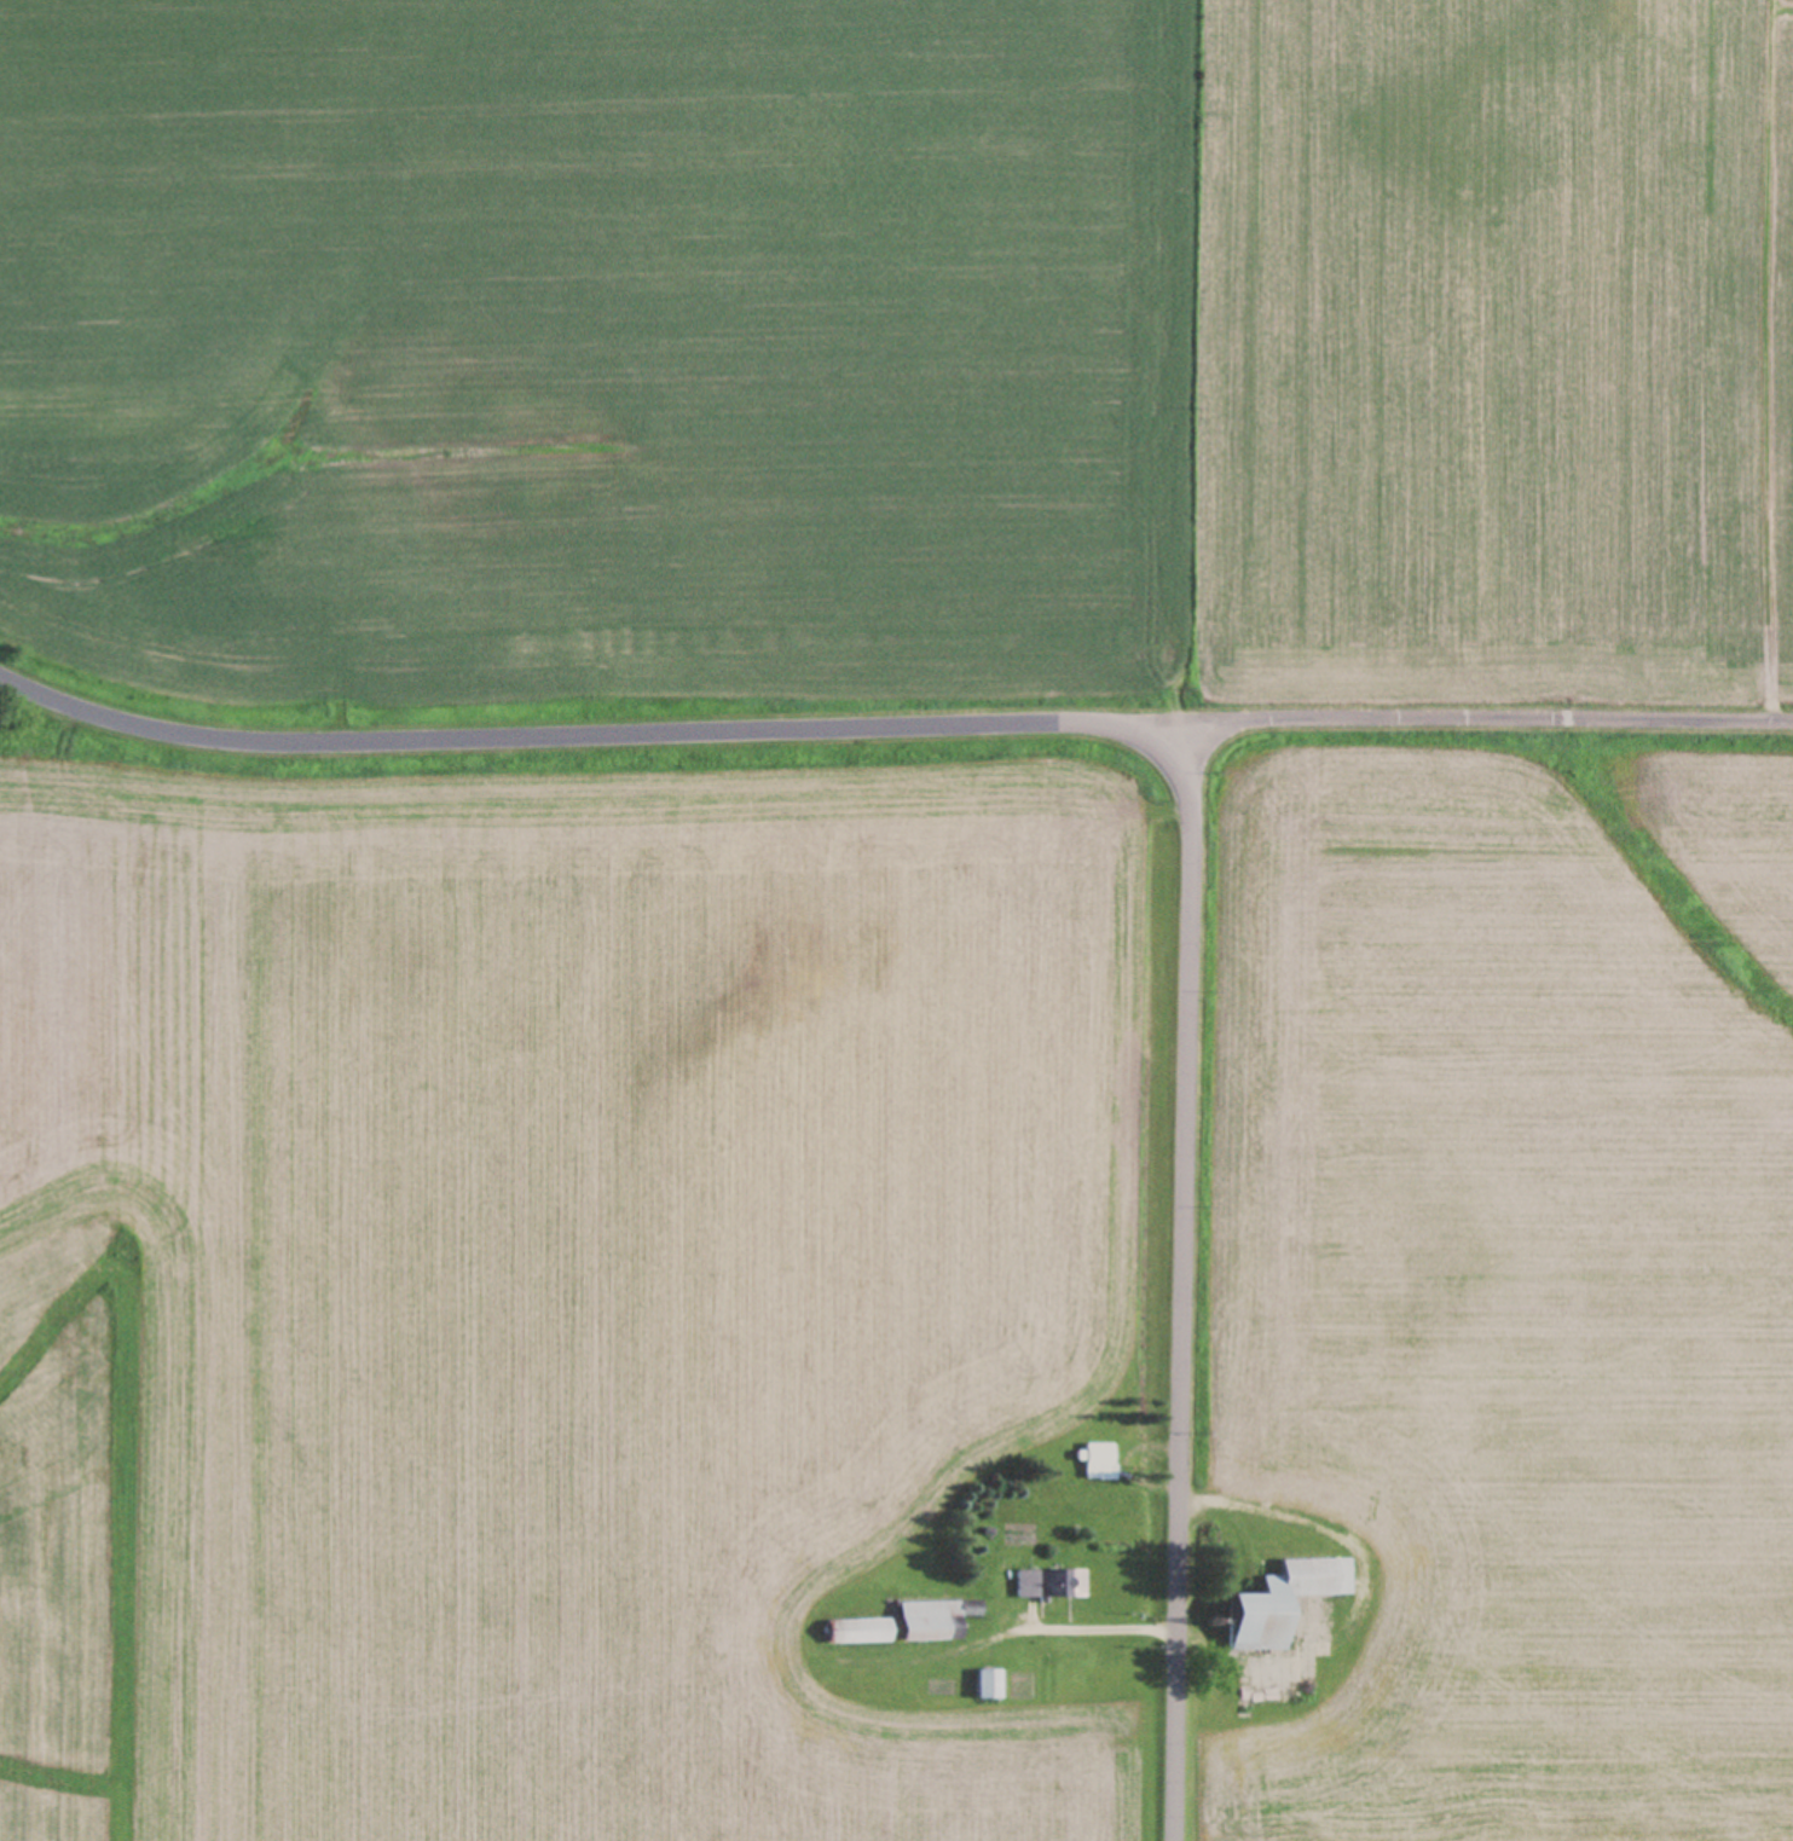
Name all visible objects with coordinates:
road: (1491, 728)
road: (589, 736)
road: (1179, 1284)
building: (1094, 1464)
building: (1047, 1586)
building: (1273, 1603)
building: (903, 1626)
road: (1097, 1627)
building: (982, 1686)

